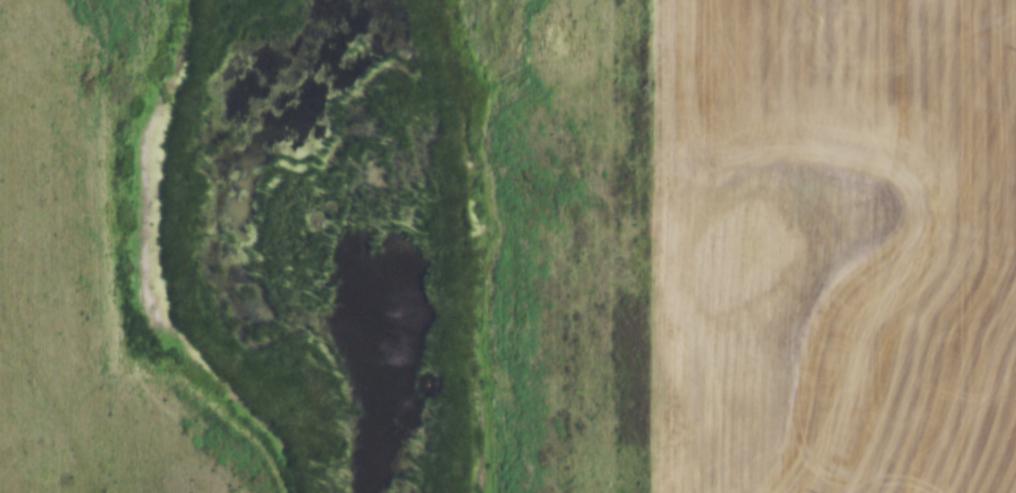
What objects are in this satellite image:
road: (669, 246)

